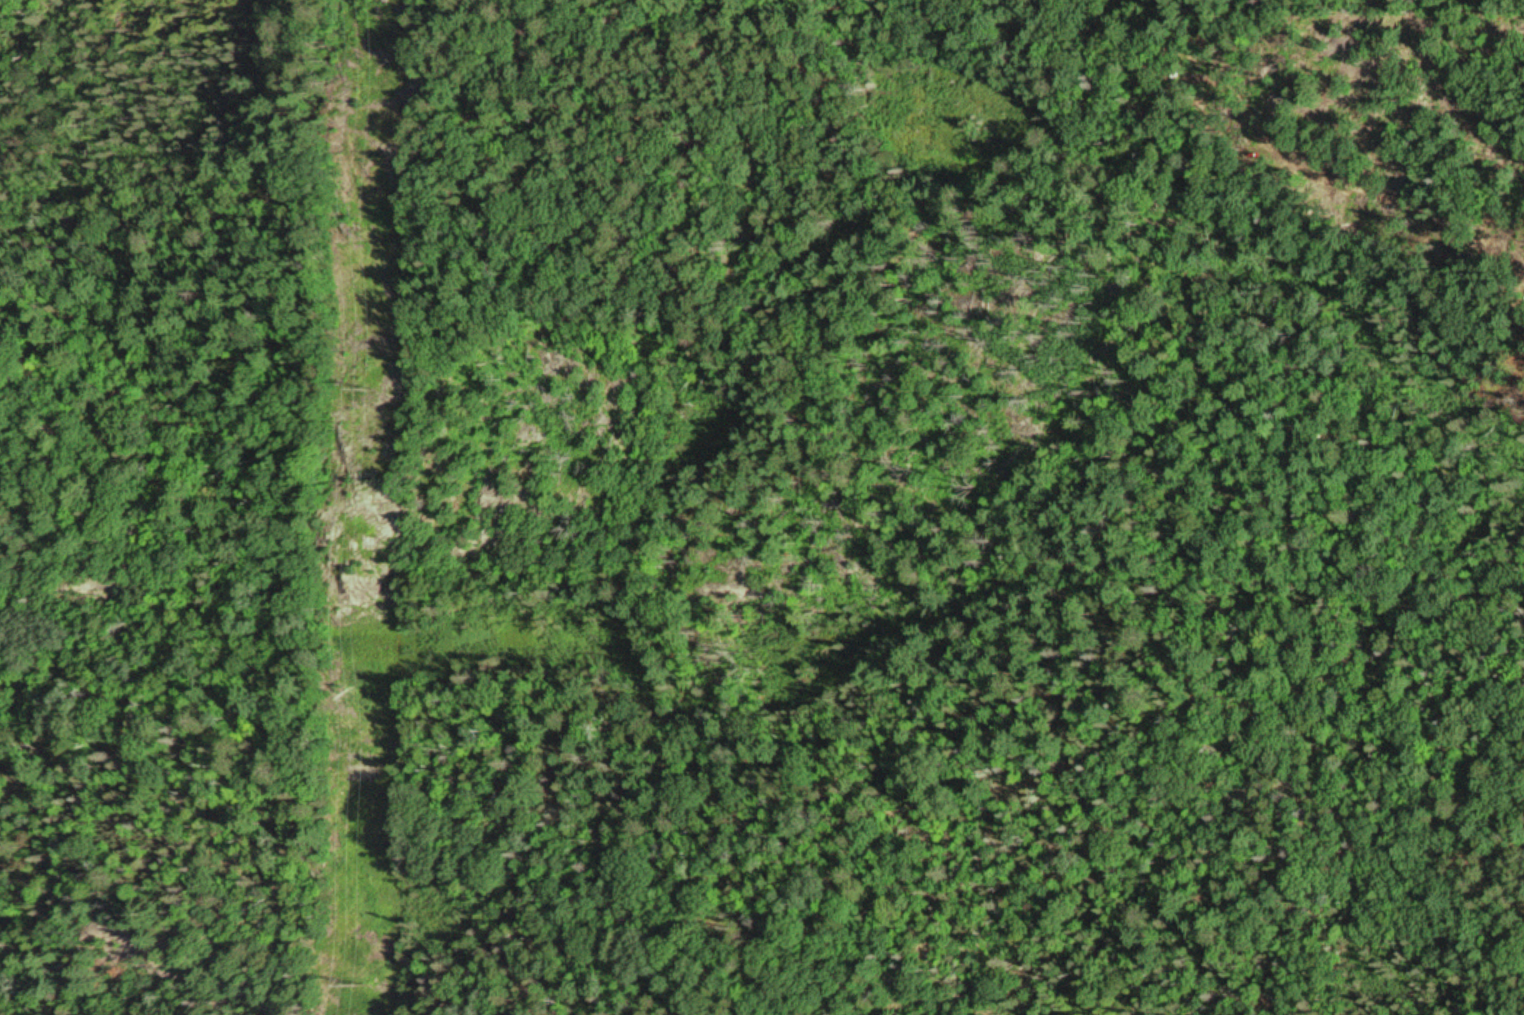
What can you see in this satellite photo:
road: (801, 263)
road: (259, 633)
road: (8, 1010)

